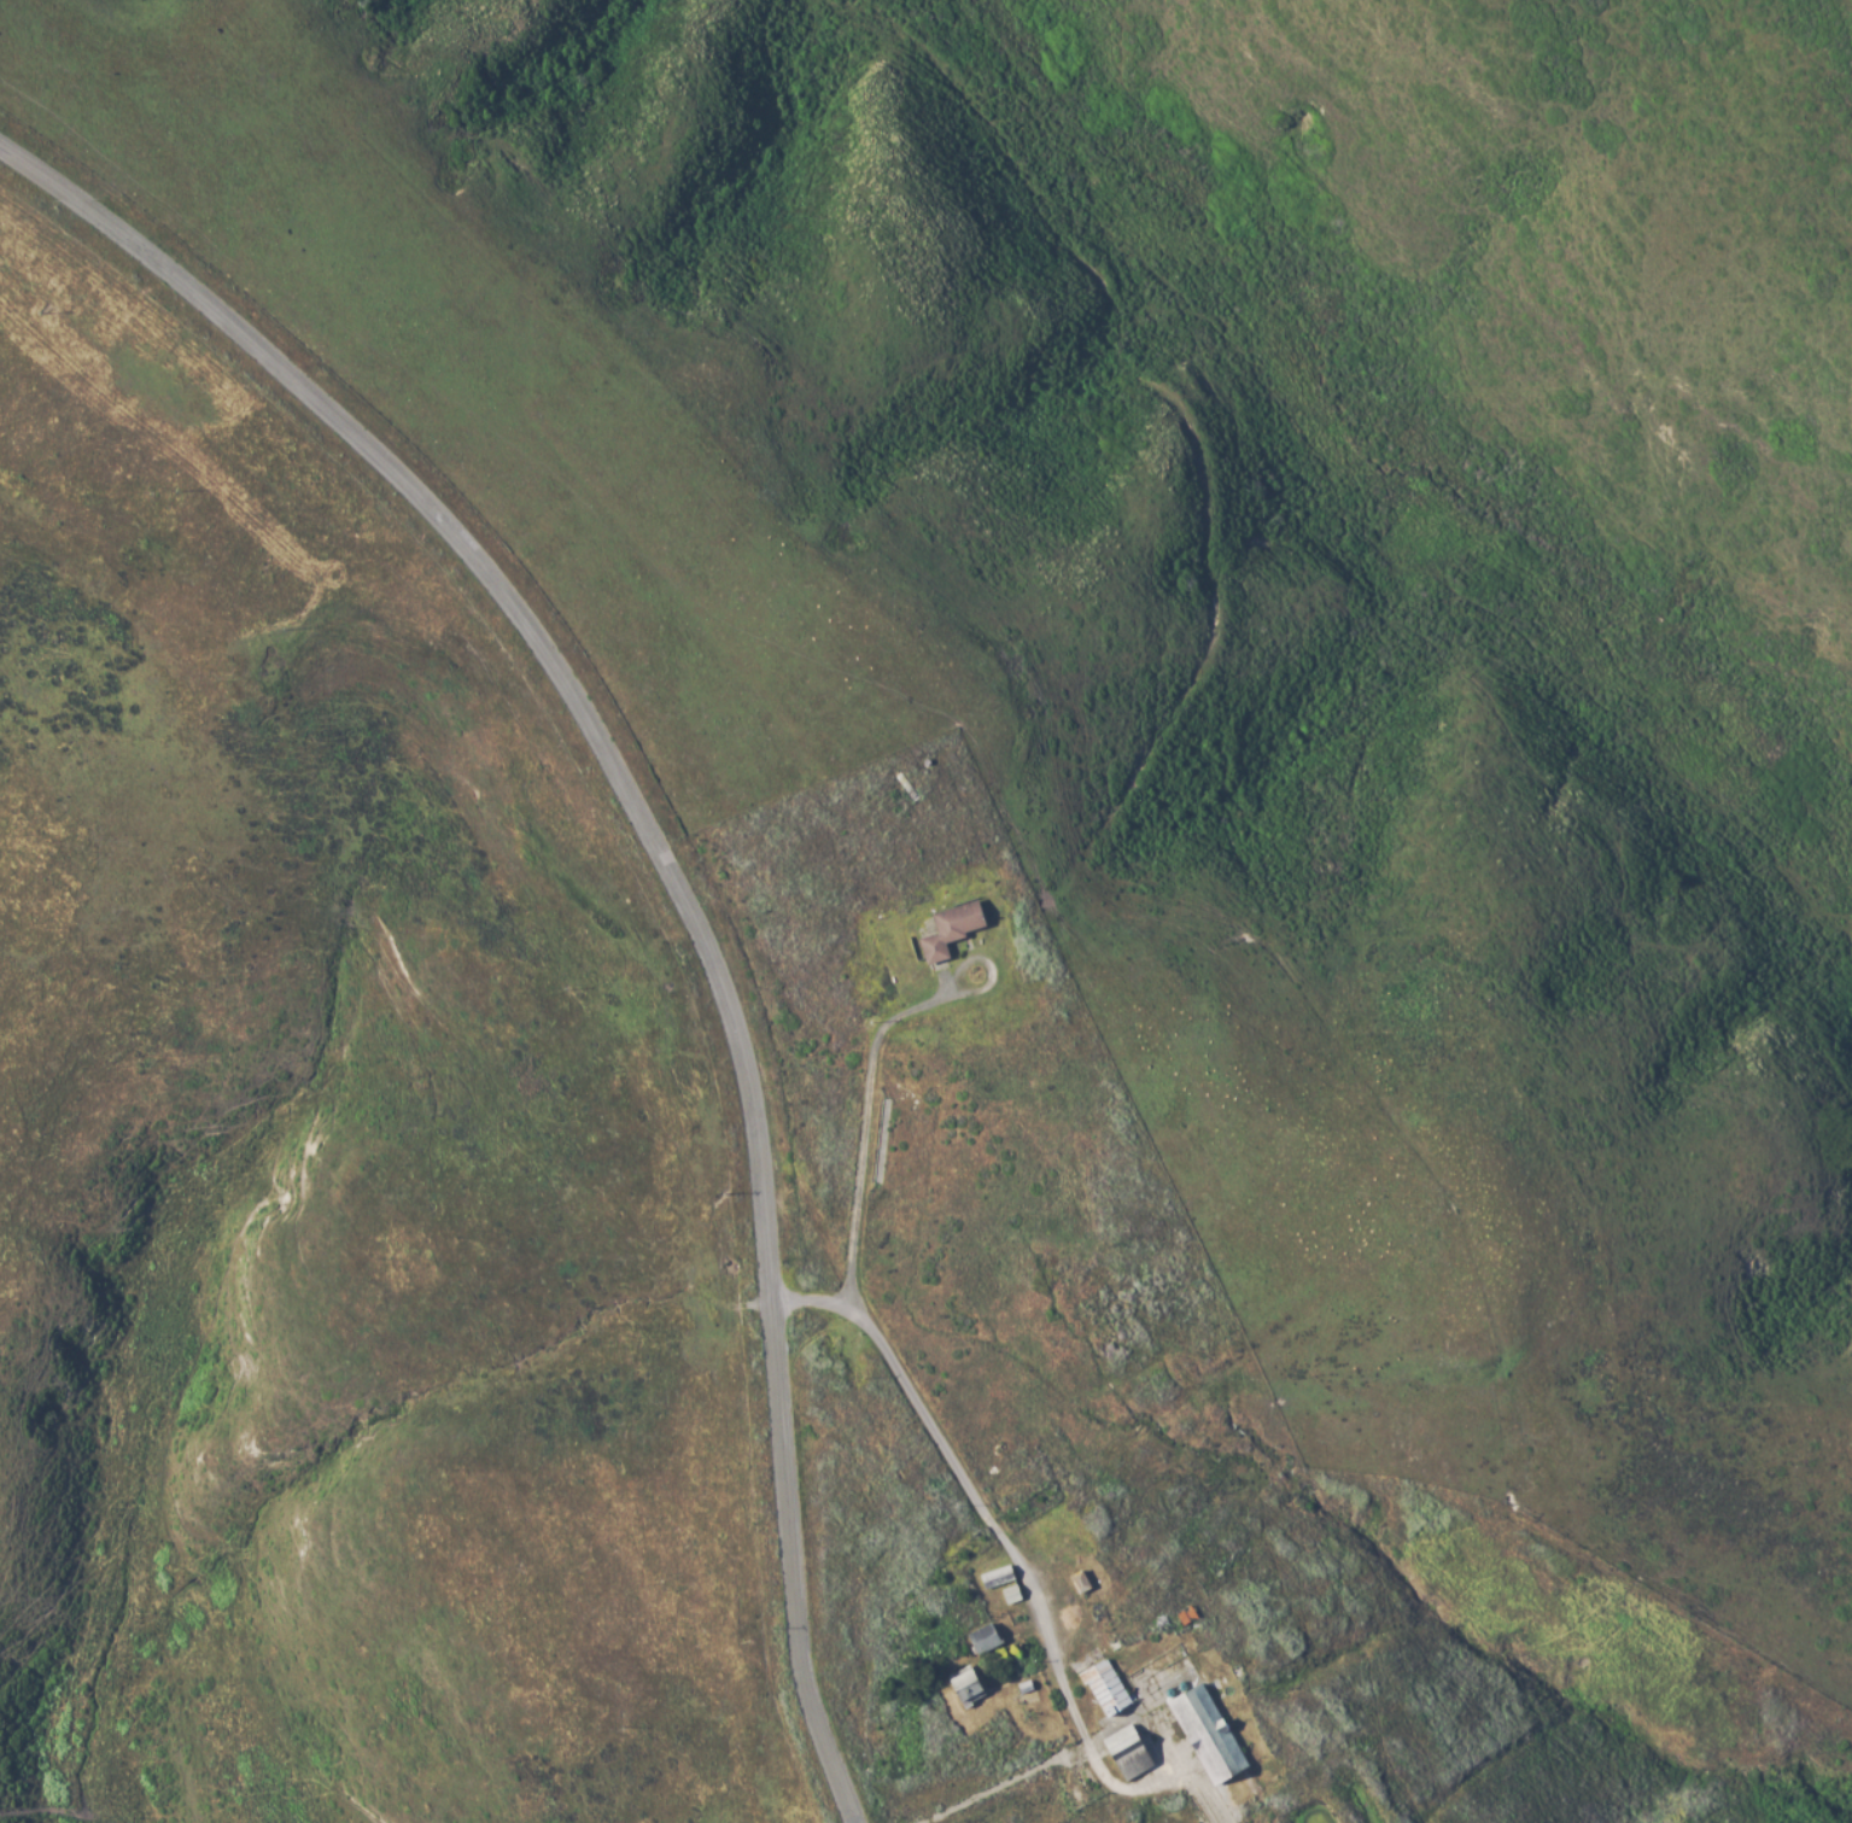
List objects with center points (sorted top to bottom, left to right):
road: (625, 796)
building: (951, 928)
road: (865, 1127)
road: (964, 1486)
road: (828, 1752)
road: (1005, 1784)

